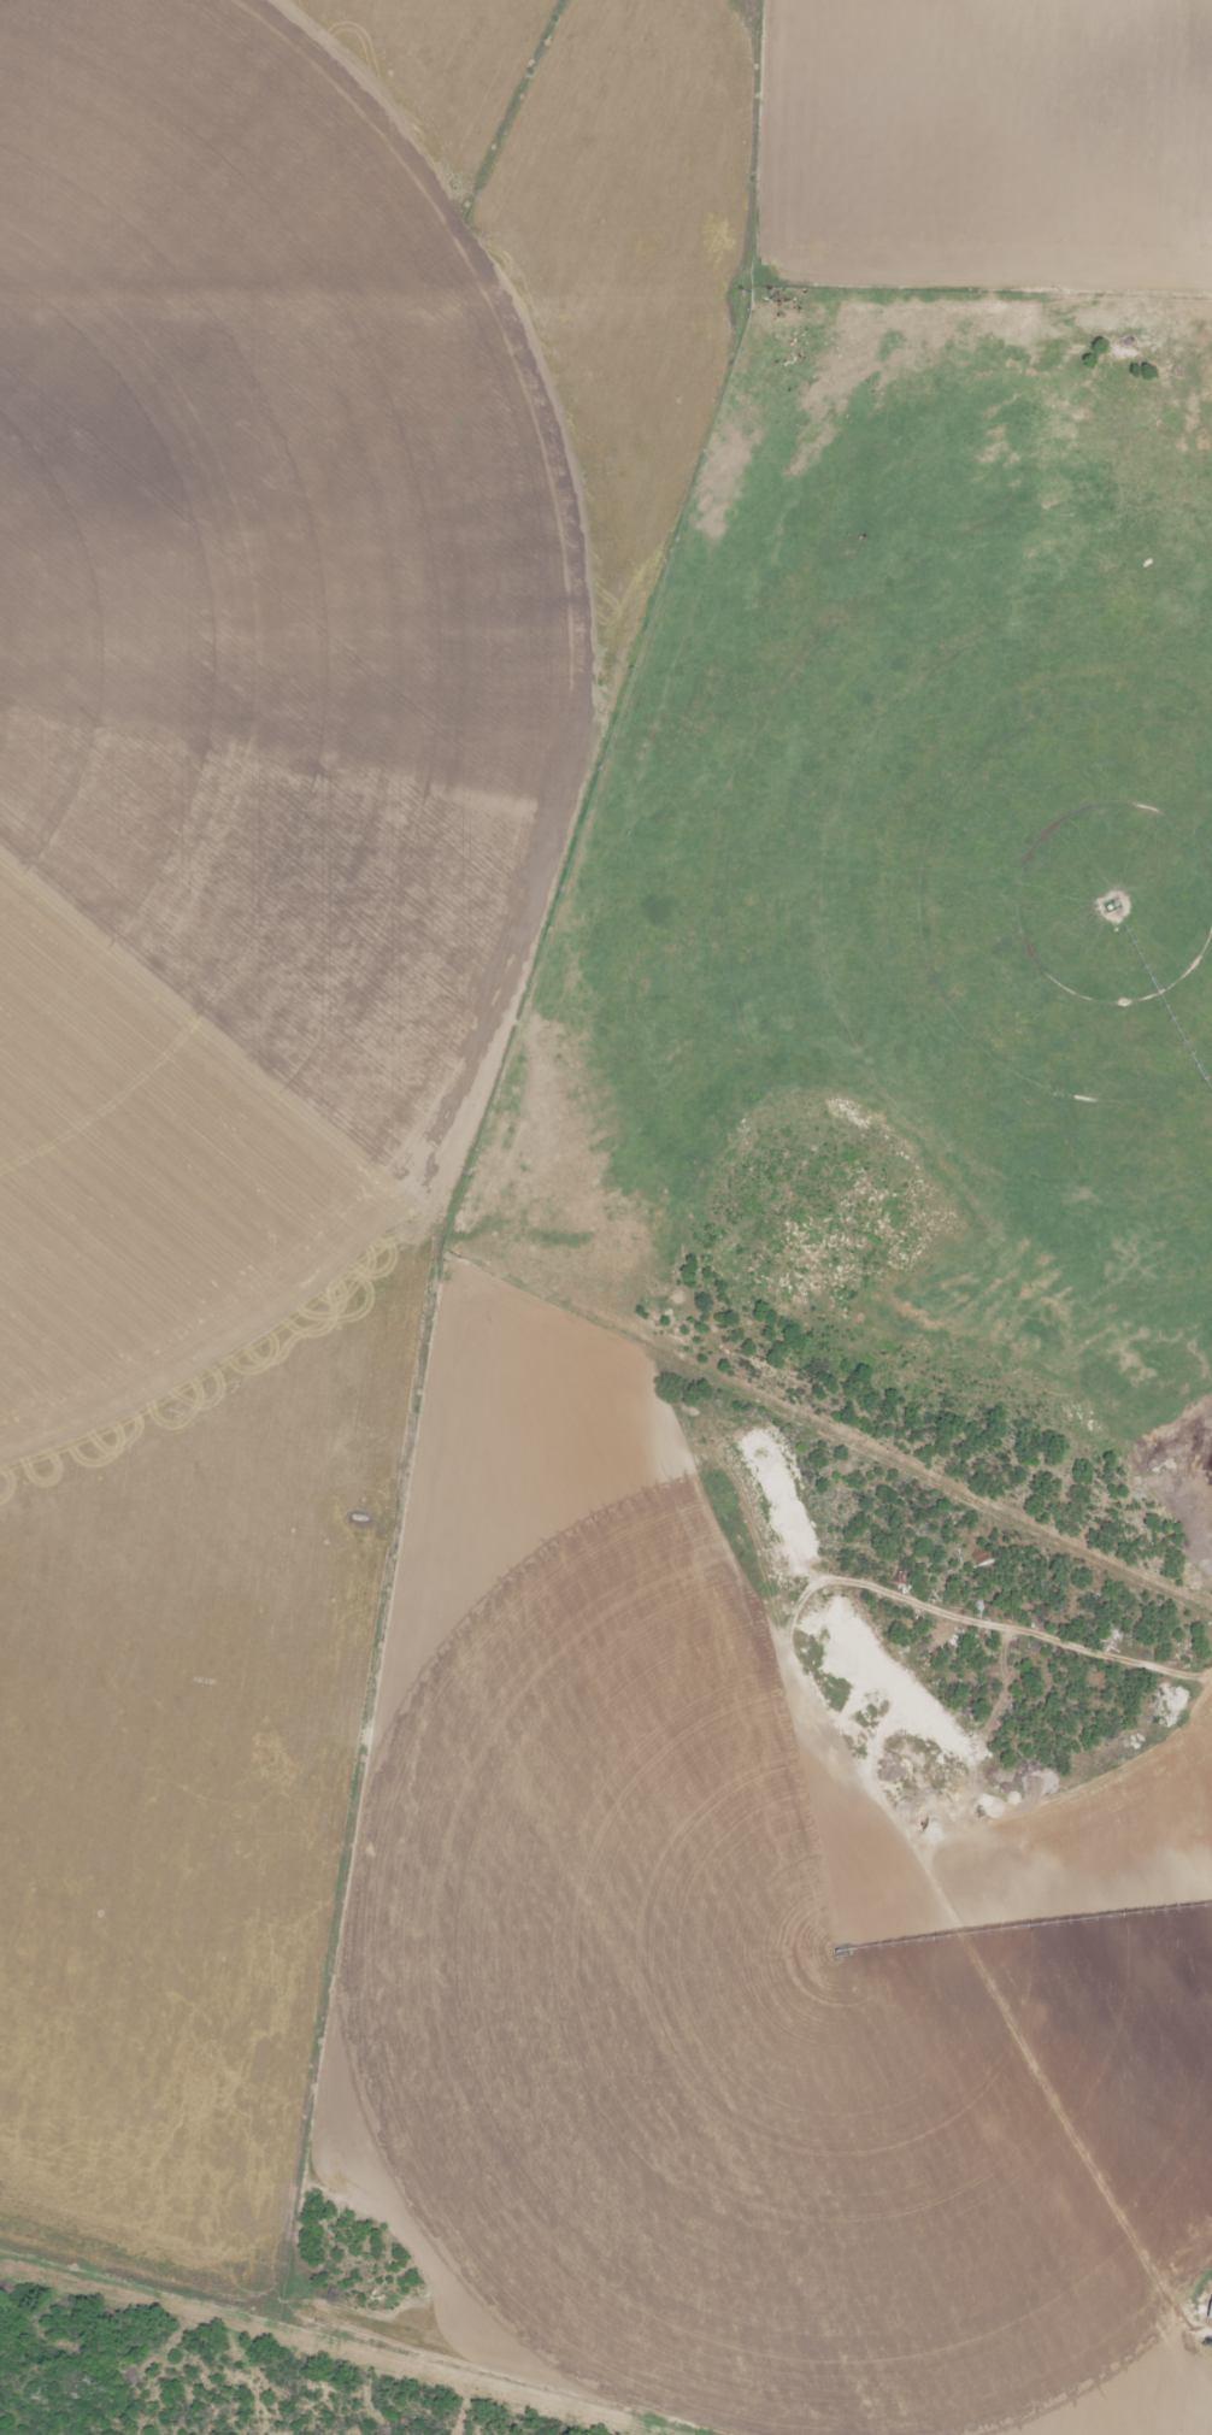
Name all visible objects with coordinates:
road: (652, 1234)
road: (324, 1259)
road: (1185, 1780)
road: (1036, 2100)
building: (1210, 2311)

